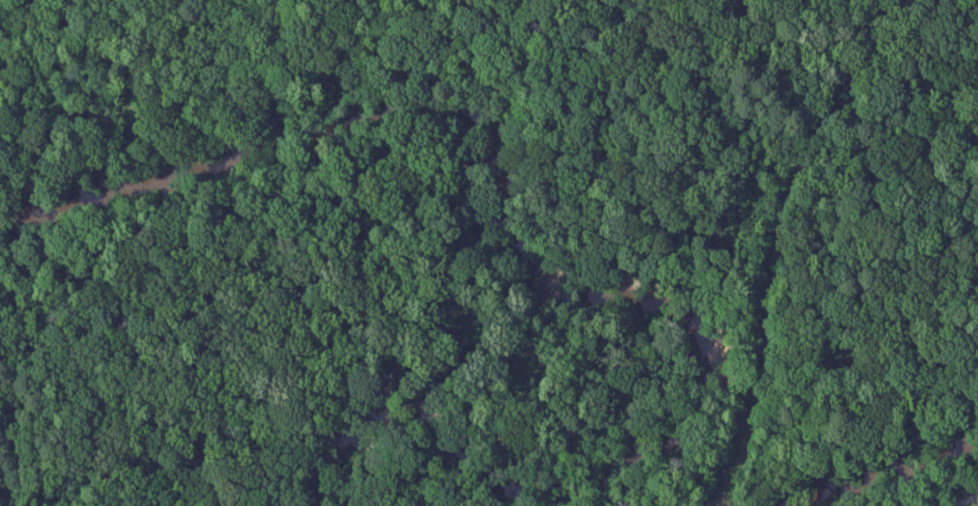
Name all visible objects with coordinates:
road: (965, 501)

